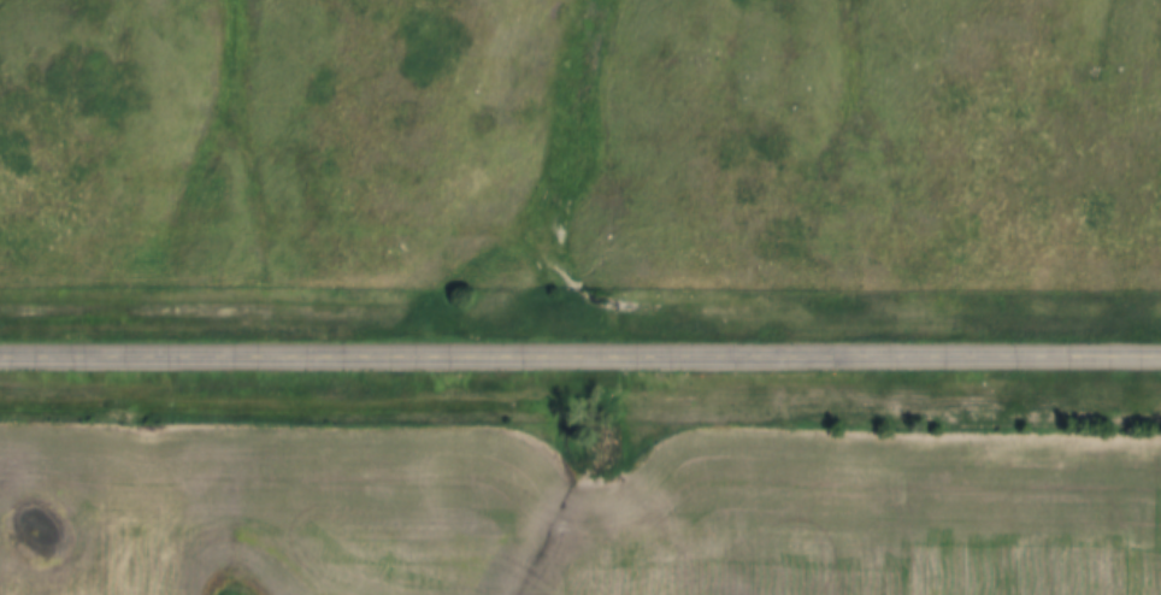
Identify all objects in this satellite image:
road: (580, 355)

